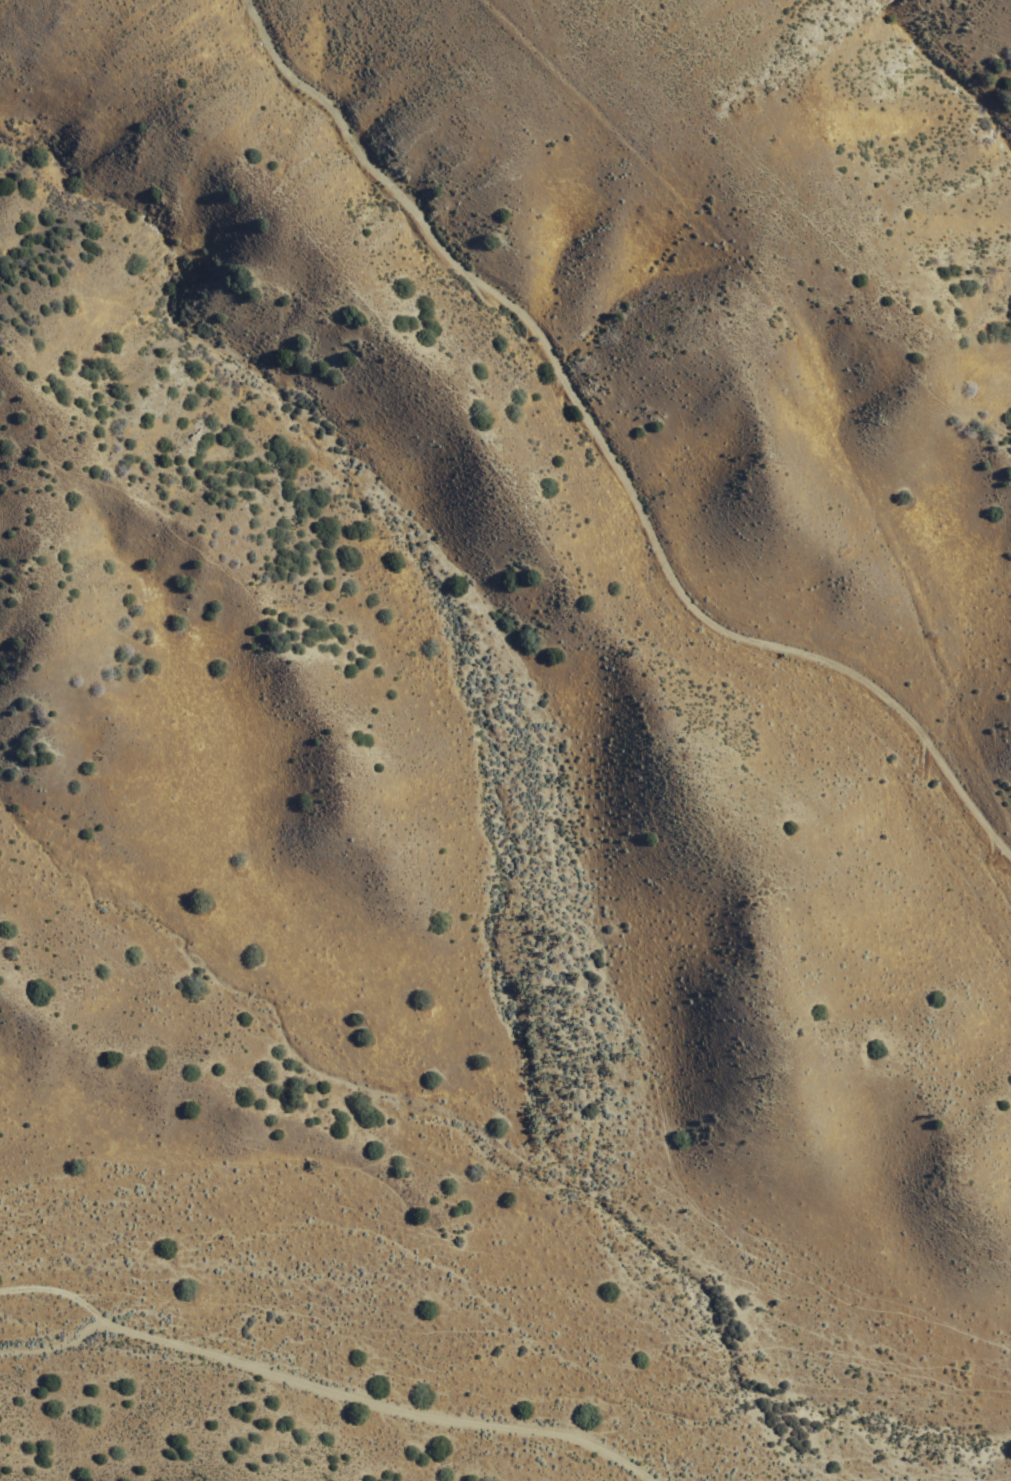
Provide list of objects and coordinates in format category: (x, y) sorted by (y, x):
road: (610, 451)
road: (318, 1391)

